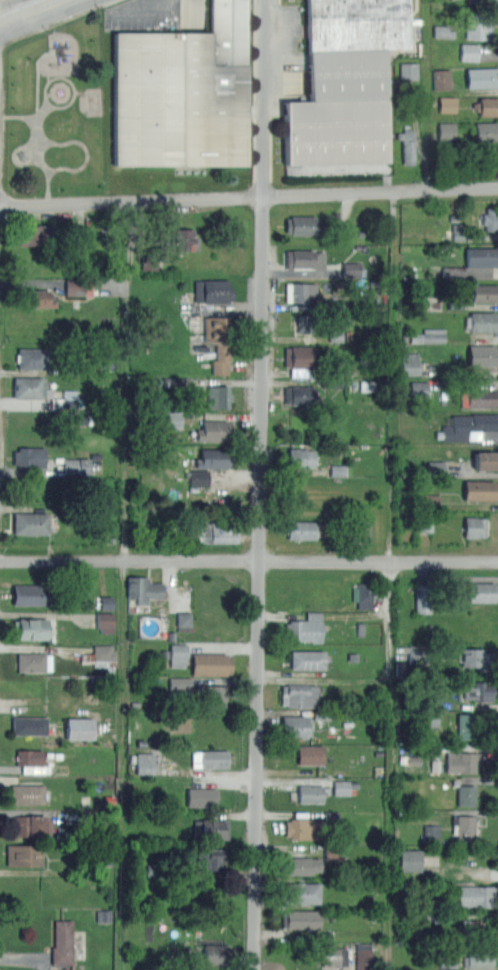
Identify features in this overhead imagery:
building: (484, 1)
road: (28, 11)
road: (158, 13)
parking lot: (157, 15)
building: (479, 26)
building: (444, 31)
parking lot: (292, 52)
building: (469, 52)
building: (409, 71)
building: (482, 77)
building: (441, 79)
building: (343, 83)
building: (182, 93)
building: (447, 104)
building: (487, 106)
building: (446, 131)
building: (486, 132)
road: (419, 140)
building: (407, 145)
road: (248, 196)
building: (490, 218)
building: (303, 225)
building: (459, 232)
building: (37, 235)
building: (184, 240)
building: (302, 259)
building: (475, 262)
building: (351, 269)
building: (78, 286)
building: (214, 290)
building: (302, 292)
building: (485, 292)
building: (40, 298)
building: (484, 321)
building: (306, 323)
building: (335, 336)
building: (430, 336)
building: (219, 341)
building: (483, 355)
building: (300, 356)
building: (32, 358)
building: (409, 363)
building: (368, 386)
building: (31, 387)
building: (419, 389)
building: (299, 394)
building: (219, 396)
building: (479, 397)
building: (173, 419)
building: (469, 427)
building: (215, 430)
building: (30, 456)
building: (301, 457)
building: (214, 458)
building: (485, 460)
building: (76, 466)
building: (199, 477)
road: (261, 485)
building: (481, 489)
building: (30, 522)
building: (424, 524)
building: (477, 526)
building: (363, 528)
building: (301, 529)
building: (208, 530)
road: (249, 561)
building: (142, 588)
building: (483, 592)
building: (30, 595)
building: (364, 595)
building: (422, 598)
building: (184, 621)
building: (105, 623)
building: (29, 628)
building: (305, 629)
building: (103, 652)
building: (414, 654)
building: (178, 655)
building: (474, 658)
building: (308, 660)
building: (33, 662)
building: (210, 664)
building: (180, 683)
building: (477, 692)
building: (213, 694)
building: (299, 695)
building: (434, 701)
building: (29, 725)
building: (466, 725)
building: (295, 727)
building: (79, 729)
building: (309, 755)
building: (210, 759)
building: (31, 761)
building: (461, 761)
building: (145, 763)
road: (394, 765)
building: (341, 787)
building: (27, 793)
building: (309, 794)
building: (465, 795)
building: (201, 797)
building: (28, 826)
building: (304, 828)
building: (463, 828)
building: (210, 829)
building: (431, 832)
building: (23, 854)
building: (211, 859)
building: (410, 860)
building: (300, 865)
building: (299, 893)
building: (473, 897)
building: (299, 919)
building: (470, 927)
building: (62, 942)
building: (213, 954)
building: (333, 956)
building: (364, 957)
building: (478, 958)
building: (448, 959)

